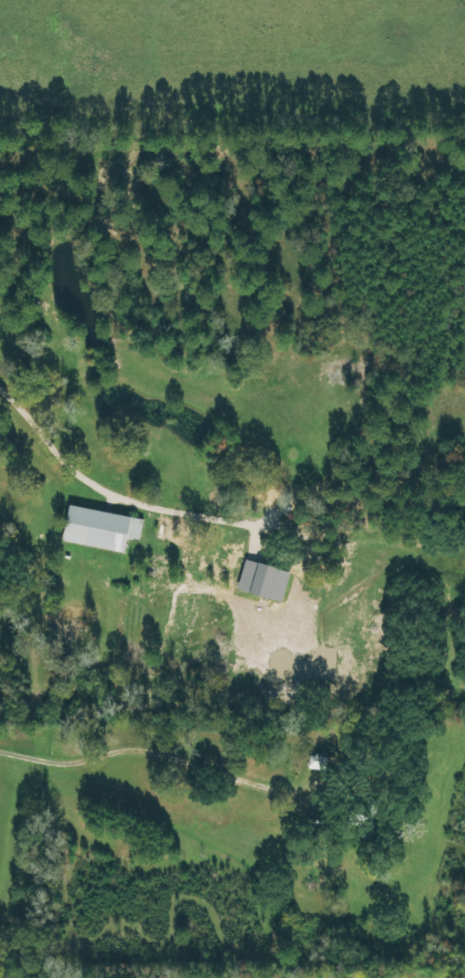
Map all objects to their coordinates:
building: (103, 530)
road: (116, 600)
road: (235, 774)

